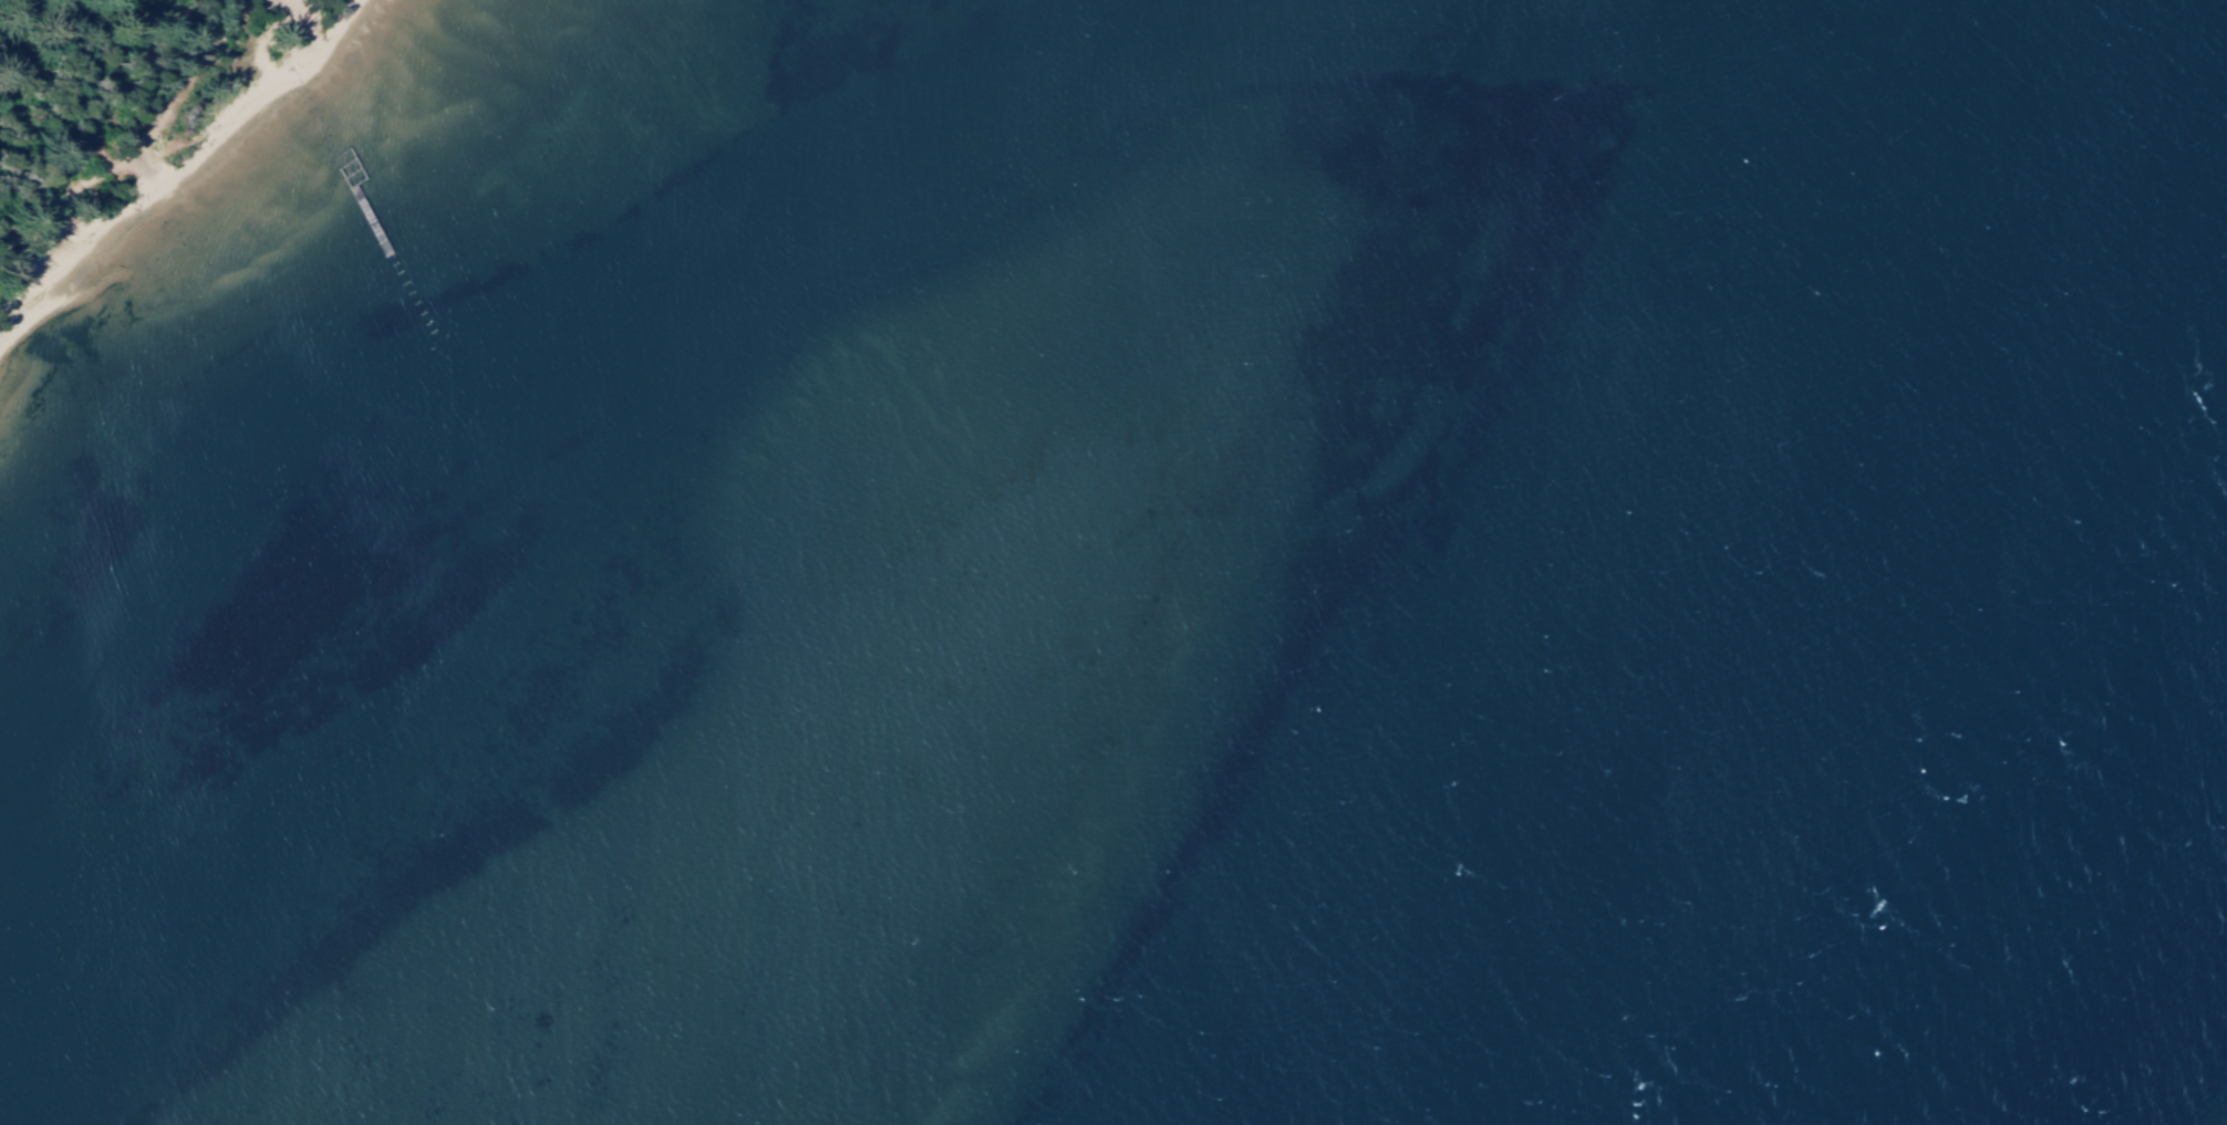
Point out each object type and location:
road: (146, 160)
pier: (359, 202)

